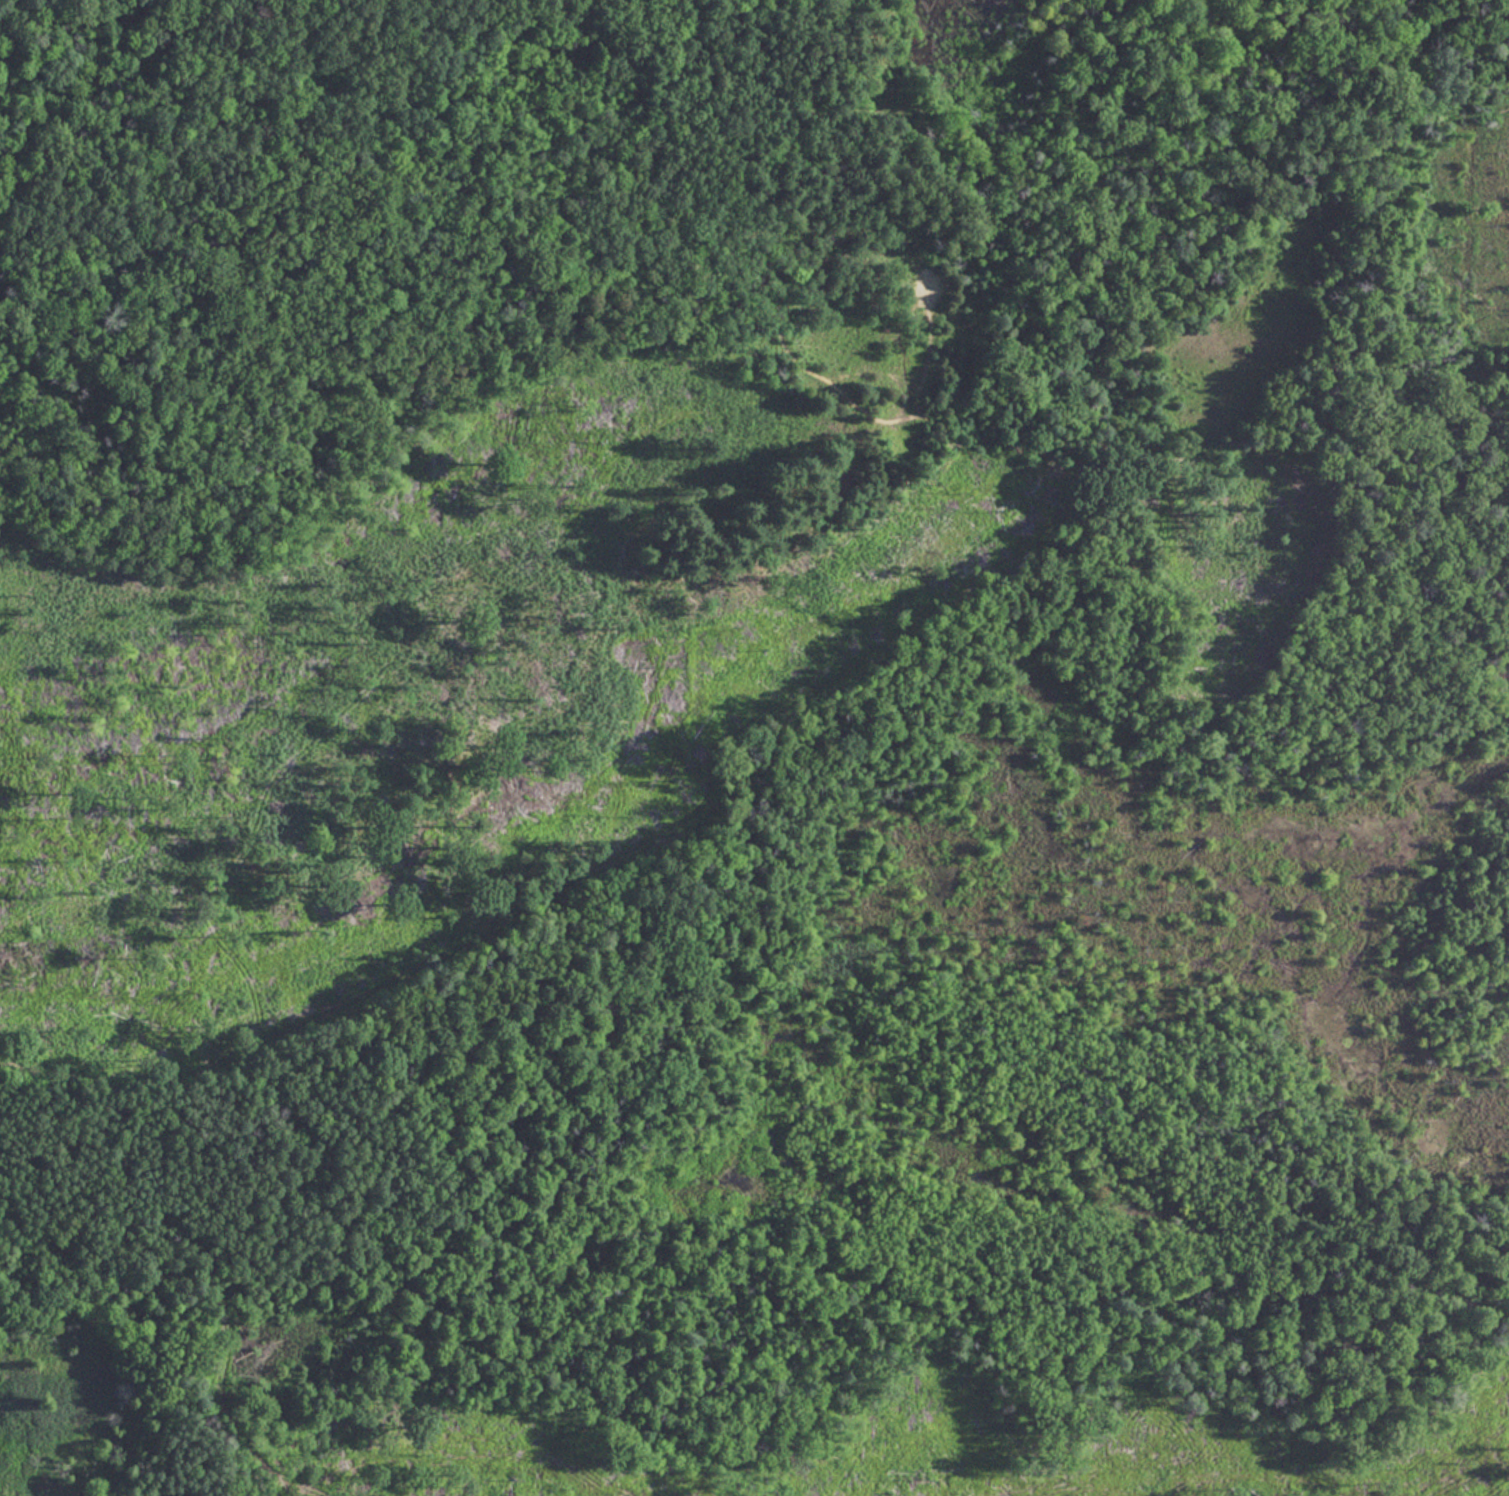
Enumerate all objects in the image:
park: (754, 748)

